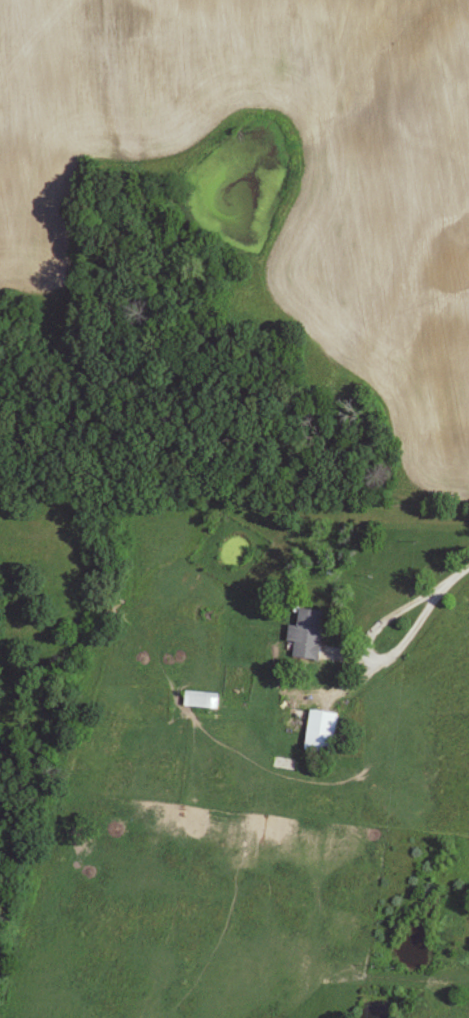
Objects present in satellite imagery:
road: (449, 583)
road: (412, 632)
building: (309, 634)
building: (322, 732)
building: (285, 763)

